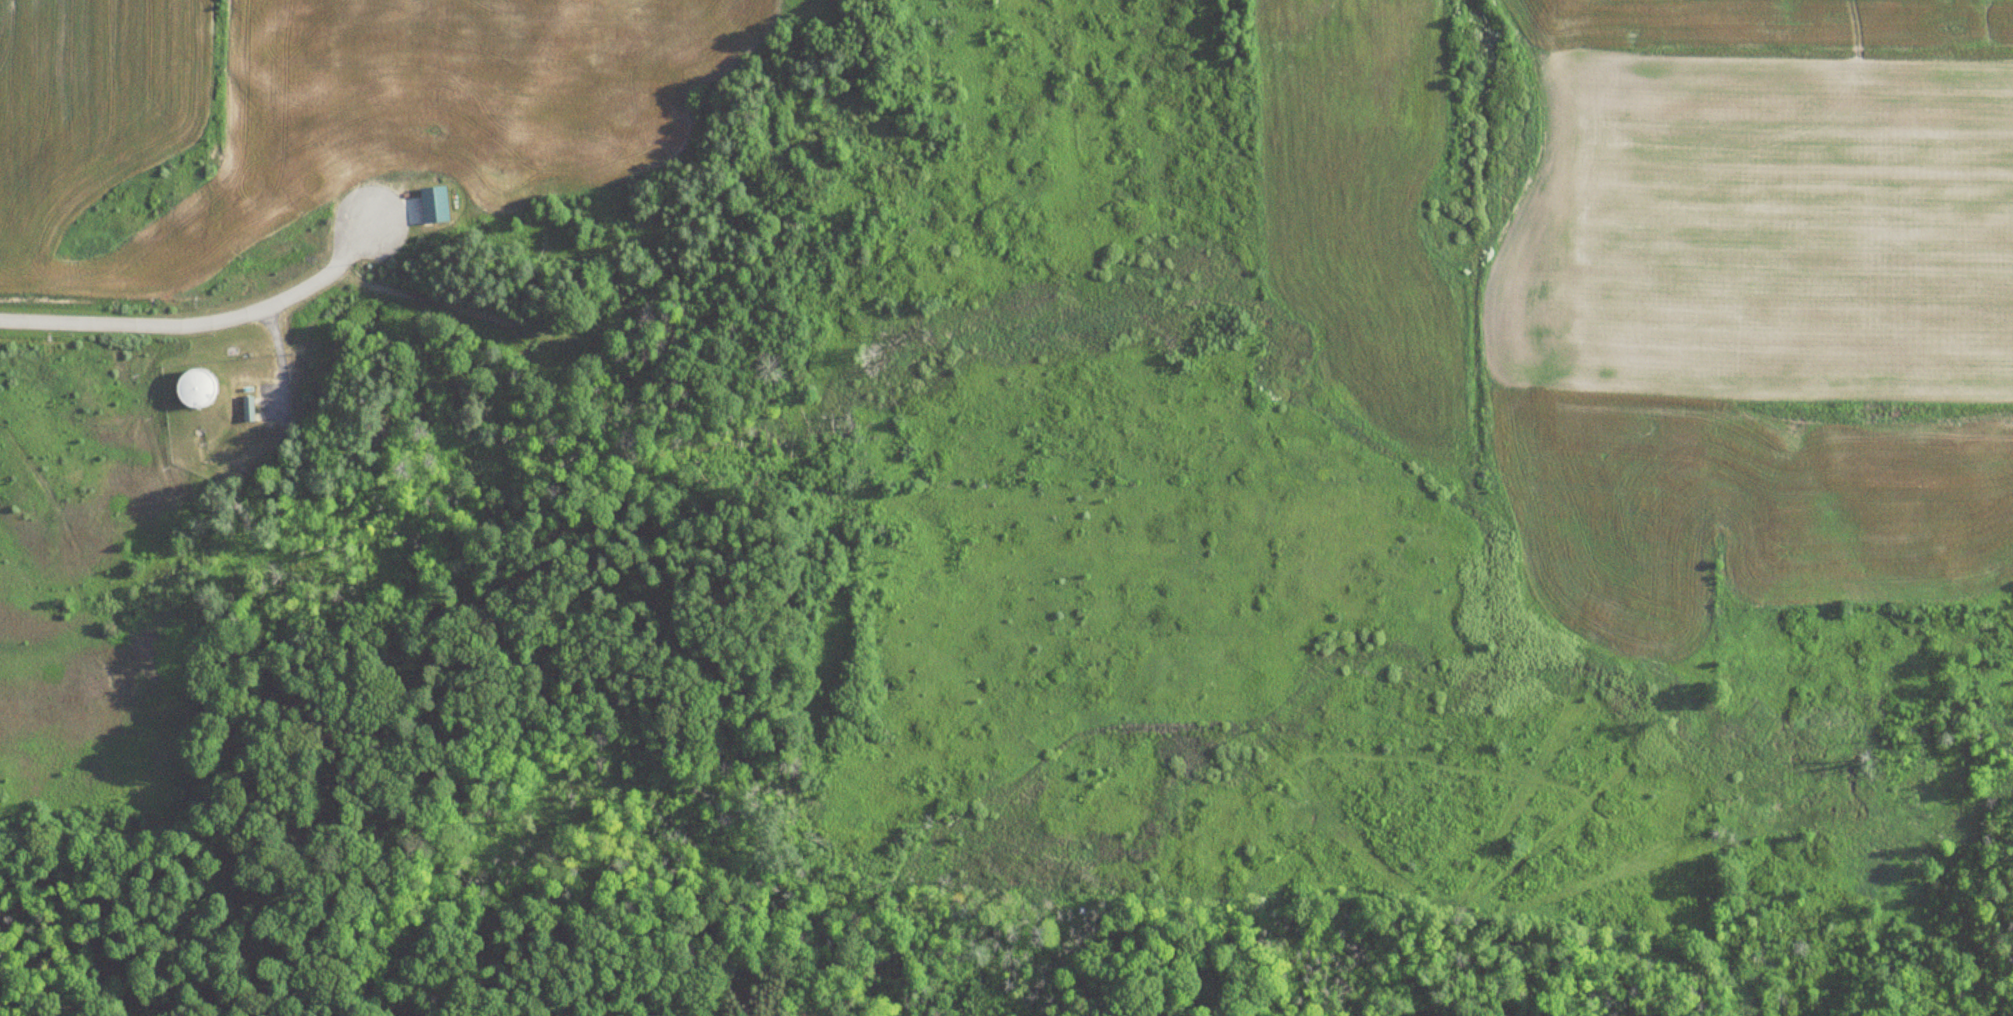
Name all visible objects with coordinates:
building: (430, 205)
airport: (1743, 334)
building: (199, 393)

